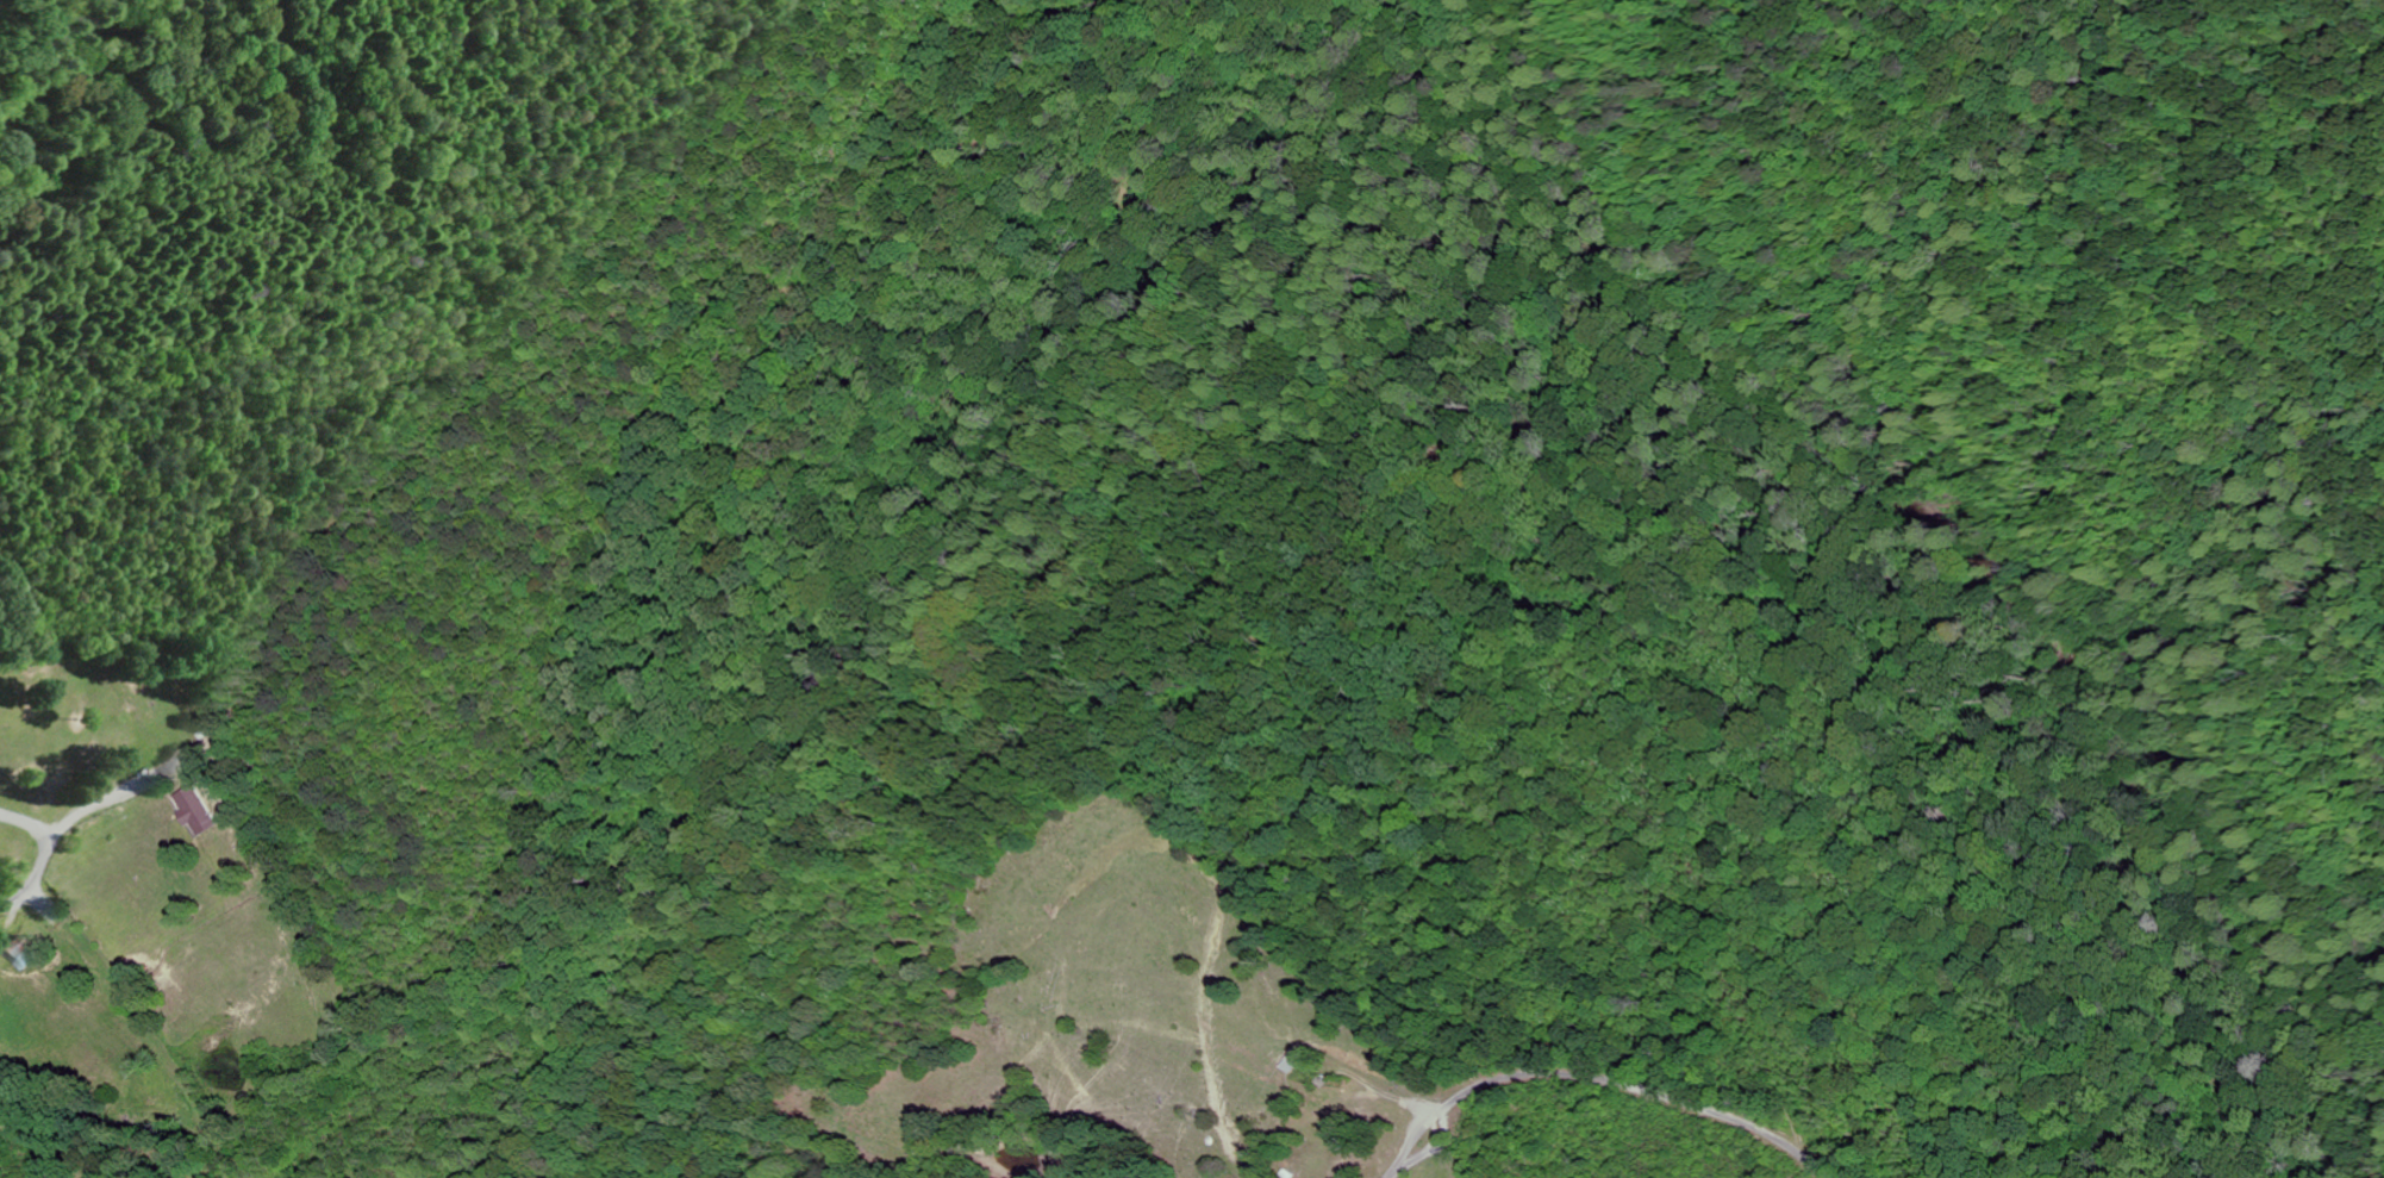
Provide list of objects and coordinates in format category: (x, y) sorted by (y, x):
building: (193, 810)
road: (23, 890)
road: (1566, 1078)

